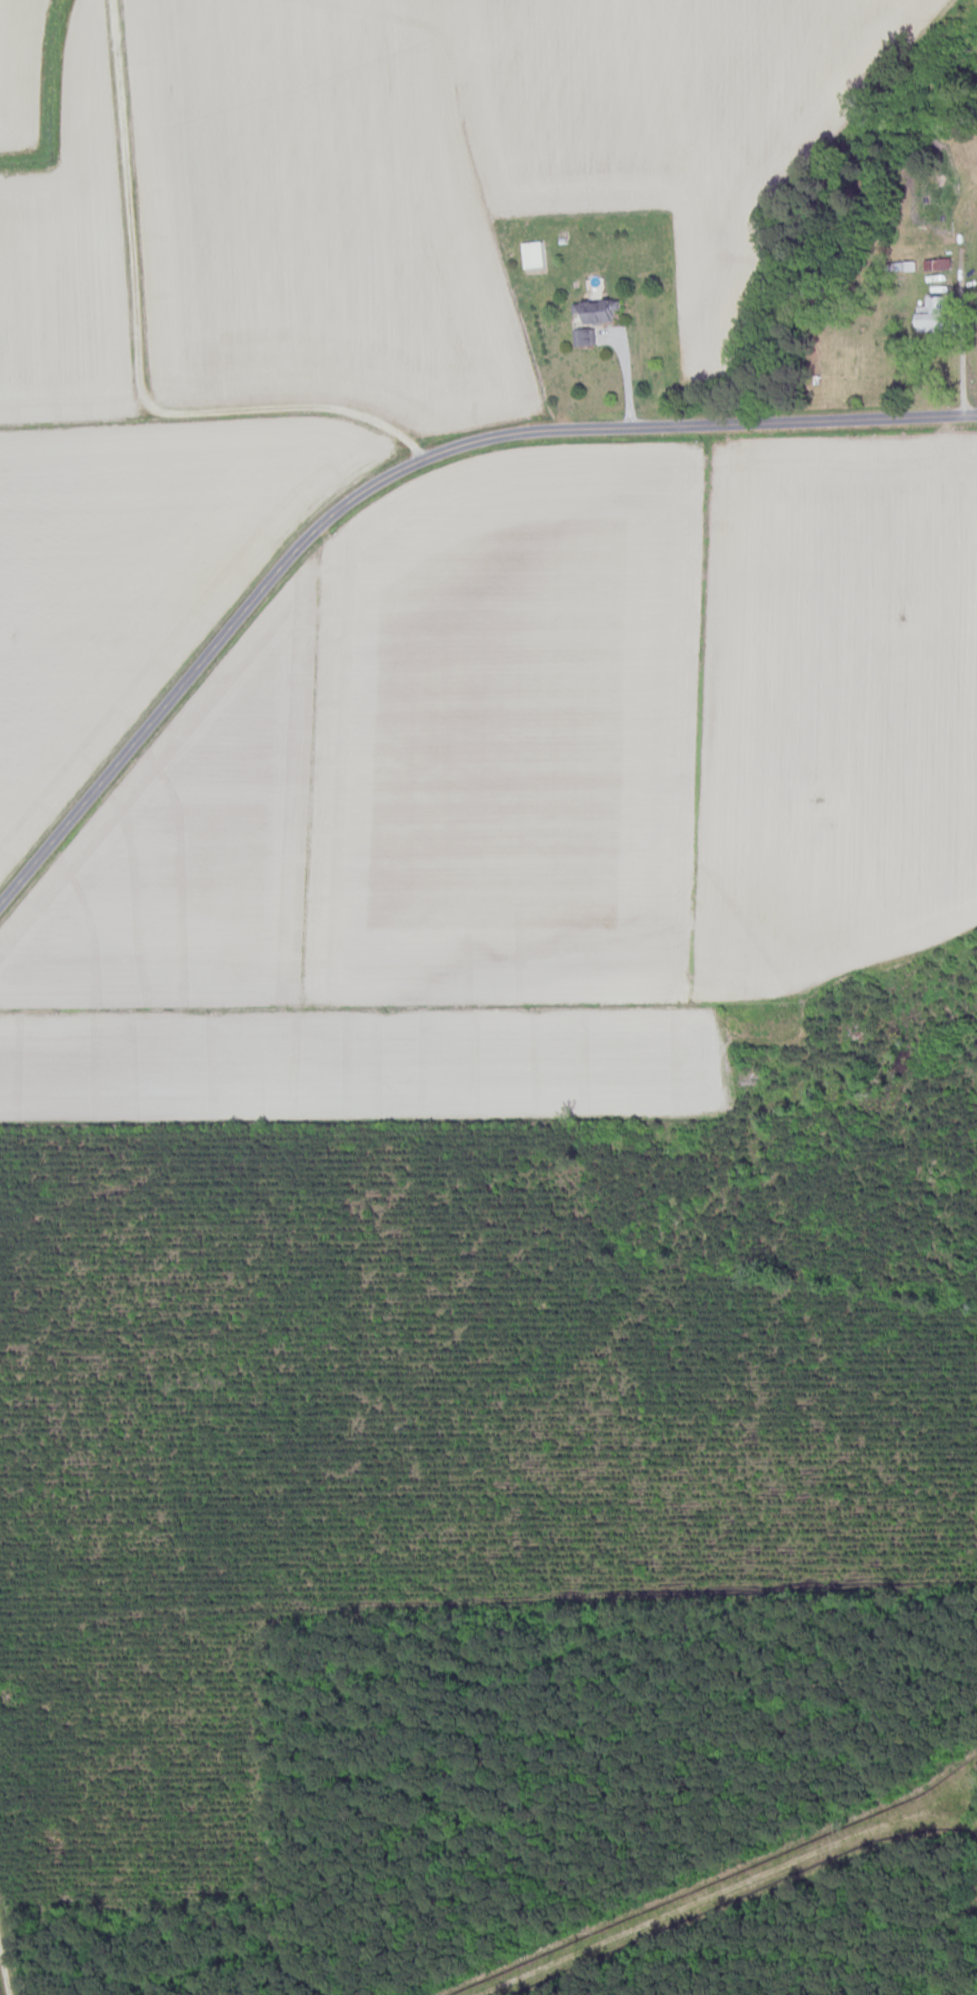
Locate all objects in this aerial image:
road: (962, 220)
road: (967, 238)
building: (531, 256)
building: (936, 265)
building: (593, 313)
building: (931, 317)
road: (961, 333)
building: (580, 338)
road: (627, 376)
road: (395, 475)

